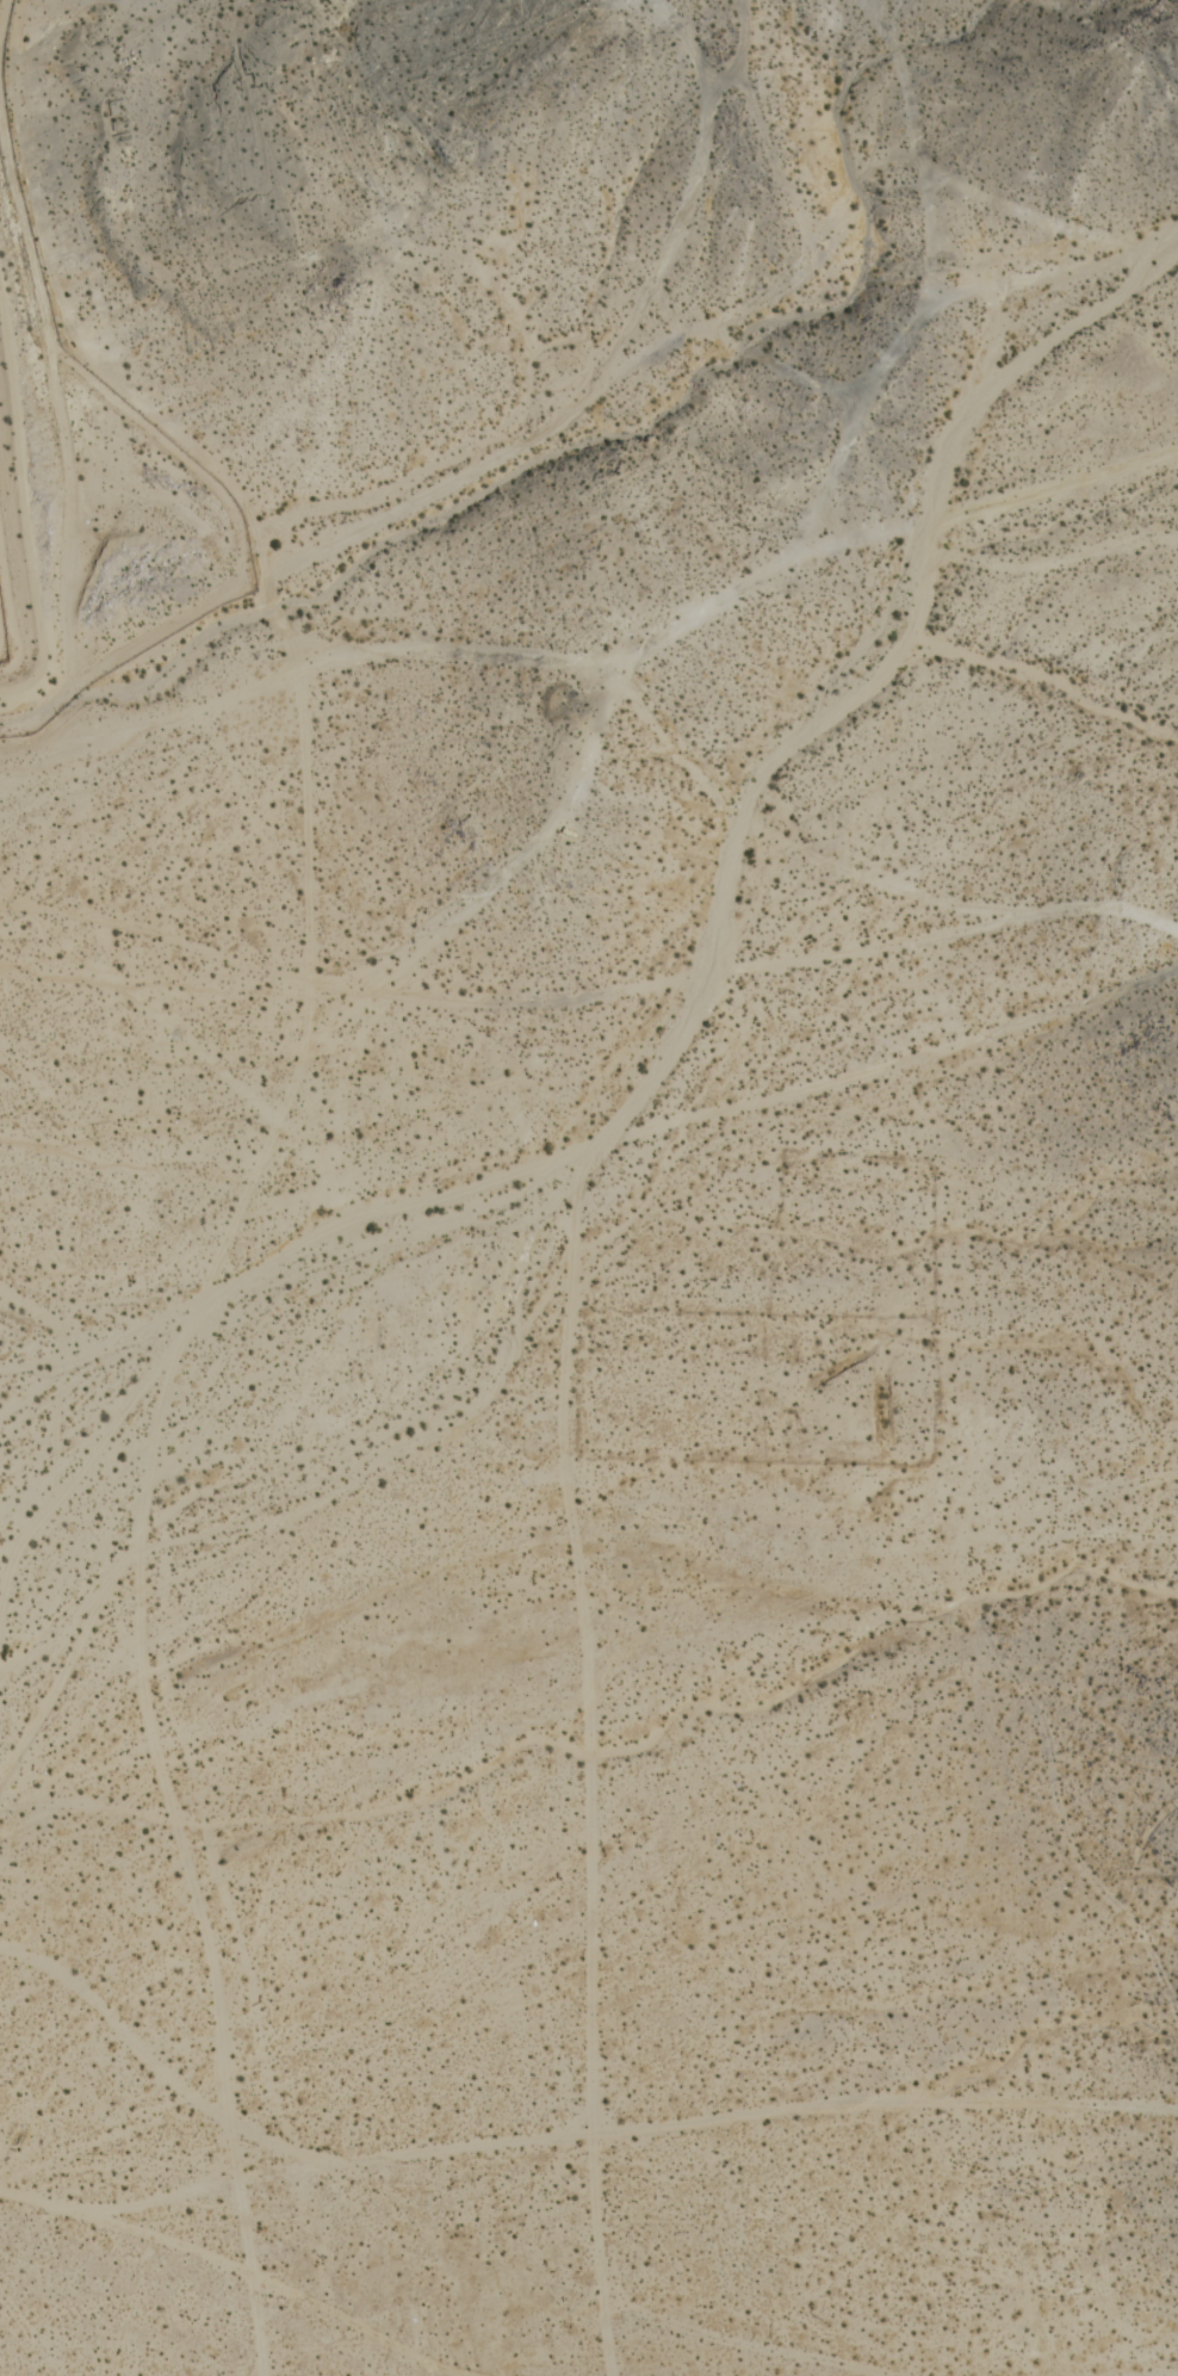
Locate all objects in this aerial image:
road: (604, 365)

